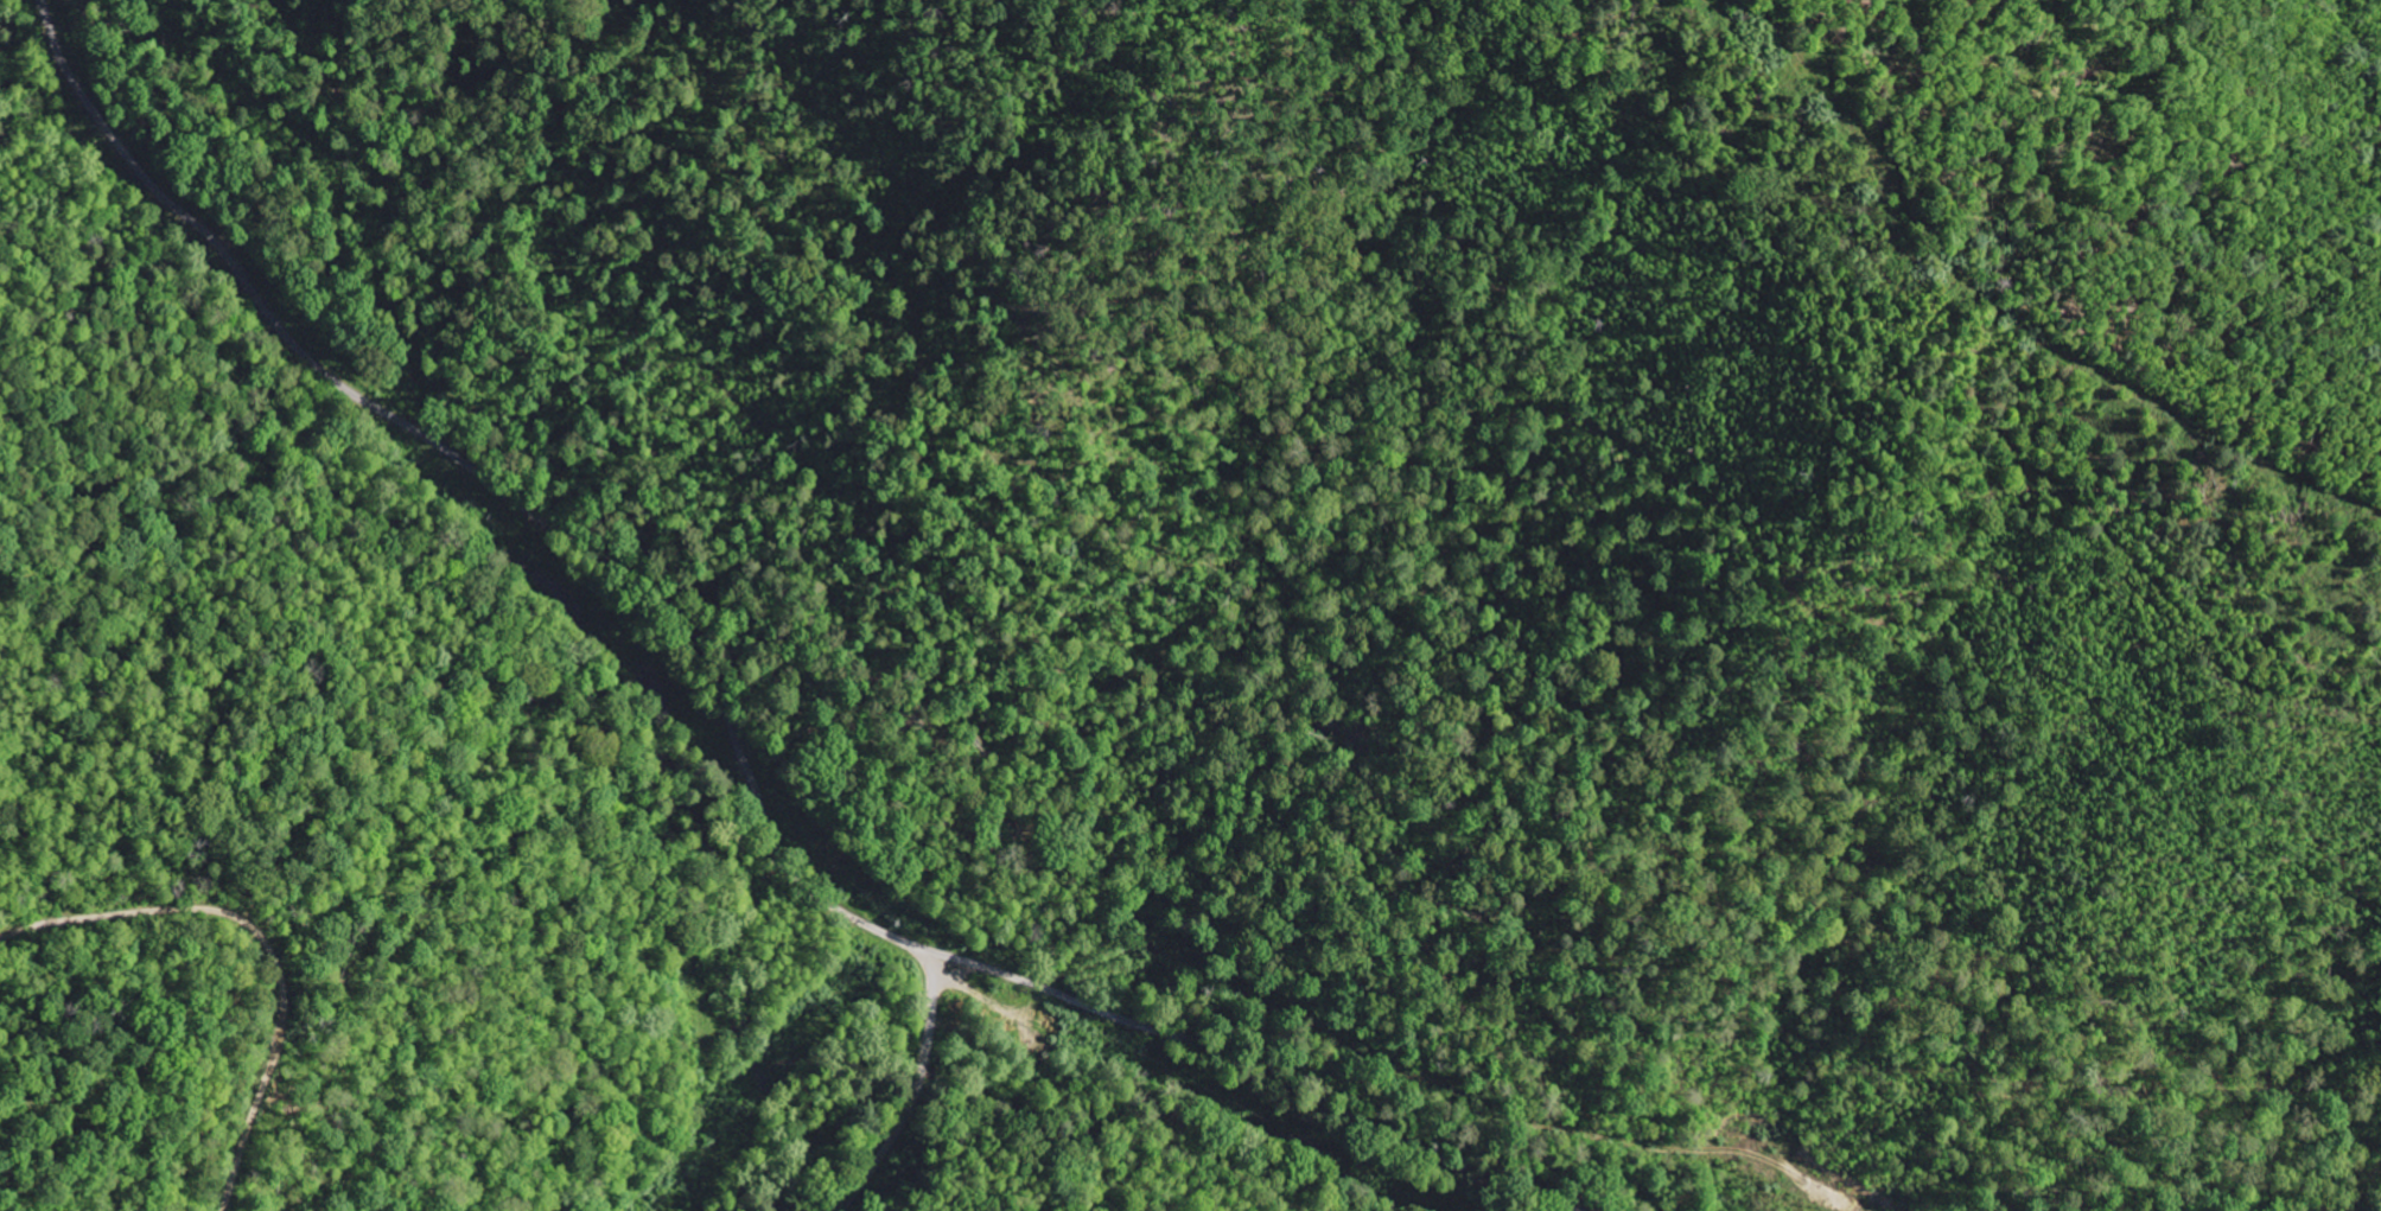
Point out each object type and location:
road: (489, 480)
road: (273, 933)
road: (999, 973)
road: (916, 1086)
road: (1333, 1107)

